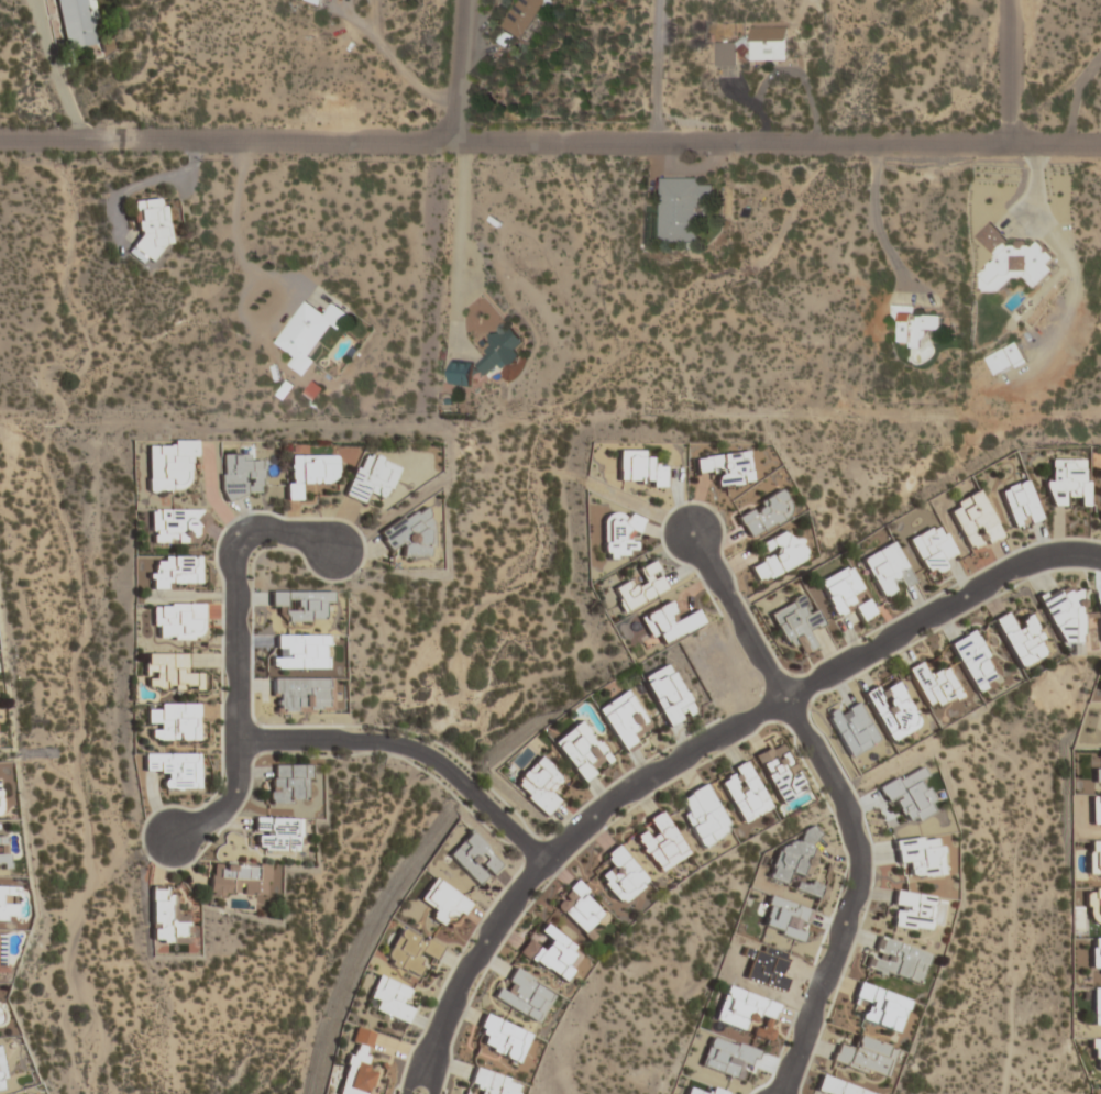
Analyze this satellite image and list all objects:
building: (522, 15)
building: (77, 23)
building: (753, 46)
road: (393, 65)
road: (653, 70)
road: (1016, 73)
road: (1069, 95)
road: (550, 142)
road: (444, 206)
building: (683, 208)
road: (872, 220)
building: (150, 226)
building: (1014, 261)
road: (252, 273)
building: (918, 327)
building: (308, 332)
building: (504, 350)
building: (1006, 358)
building: (461, 373)
building: (167, 465)
building: (725, 467)
building: (638, 468)
building: (309, 473)
building: (240, 475)
building: (371, 477)
building: (1067, 482)
building: (1020, 505)
building: (764, 513)
building: (973, 521)
building: (175, 526)
building: (620, 534)
building: (407, 535)
building: (929, 549)
building: (779, 554)
building: (885, 570)
building: (174, 572)
building: (641, 587)
building: (844, 594)
building: (300, 604)
building: (1066, 616)
building: (174, 621)
building: (669, 622)
building: (795, 623)
building: (1021, 638)
road: (239, 656)
building: (972, 660)
building: (168, 673)
building: (934, 684)
building: (668, 694)
building: (300, 695)
building: (892, 709)
building: (621, 719)
building: (172, 721)
building: (851, 729)
road: (414, 751)
building: (580, 751)
road: (697, 751)
building: (174, 771)
building: (779, 772)
building: (287, 784)
building: (538, 785)
building: (744, 792)
road: (843, 803)
building: (1096, 810)
building: (701, 816)
building: (276, 833)
building: (659, 842)
building: (3, 850)
building: (918, 855)
building: (1093, 857)
building: (471, 859)
building: (795, 863)
building: (621, 875)
building: (240, 878)
building: (440, 903)
building: (1092, 906)
building: (582, 909)
building: (912, 910)
building: (167, 918)
building: (410, 951)
building: (550, 951)
building: (1, 952)
building: (1094, 955)
building: (898, 960)
building: (524, 995)
building: (389, 998)
building: (881, 1006)
building: (1096, 1006)
building: (747, 1012)
building: (503, 1038)
building: (1096, 1053)
building: (865, 1057)
building: (357, 1063)
building: (493, 1083)
building: (838, 1087)

